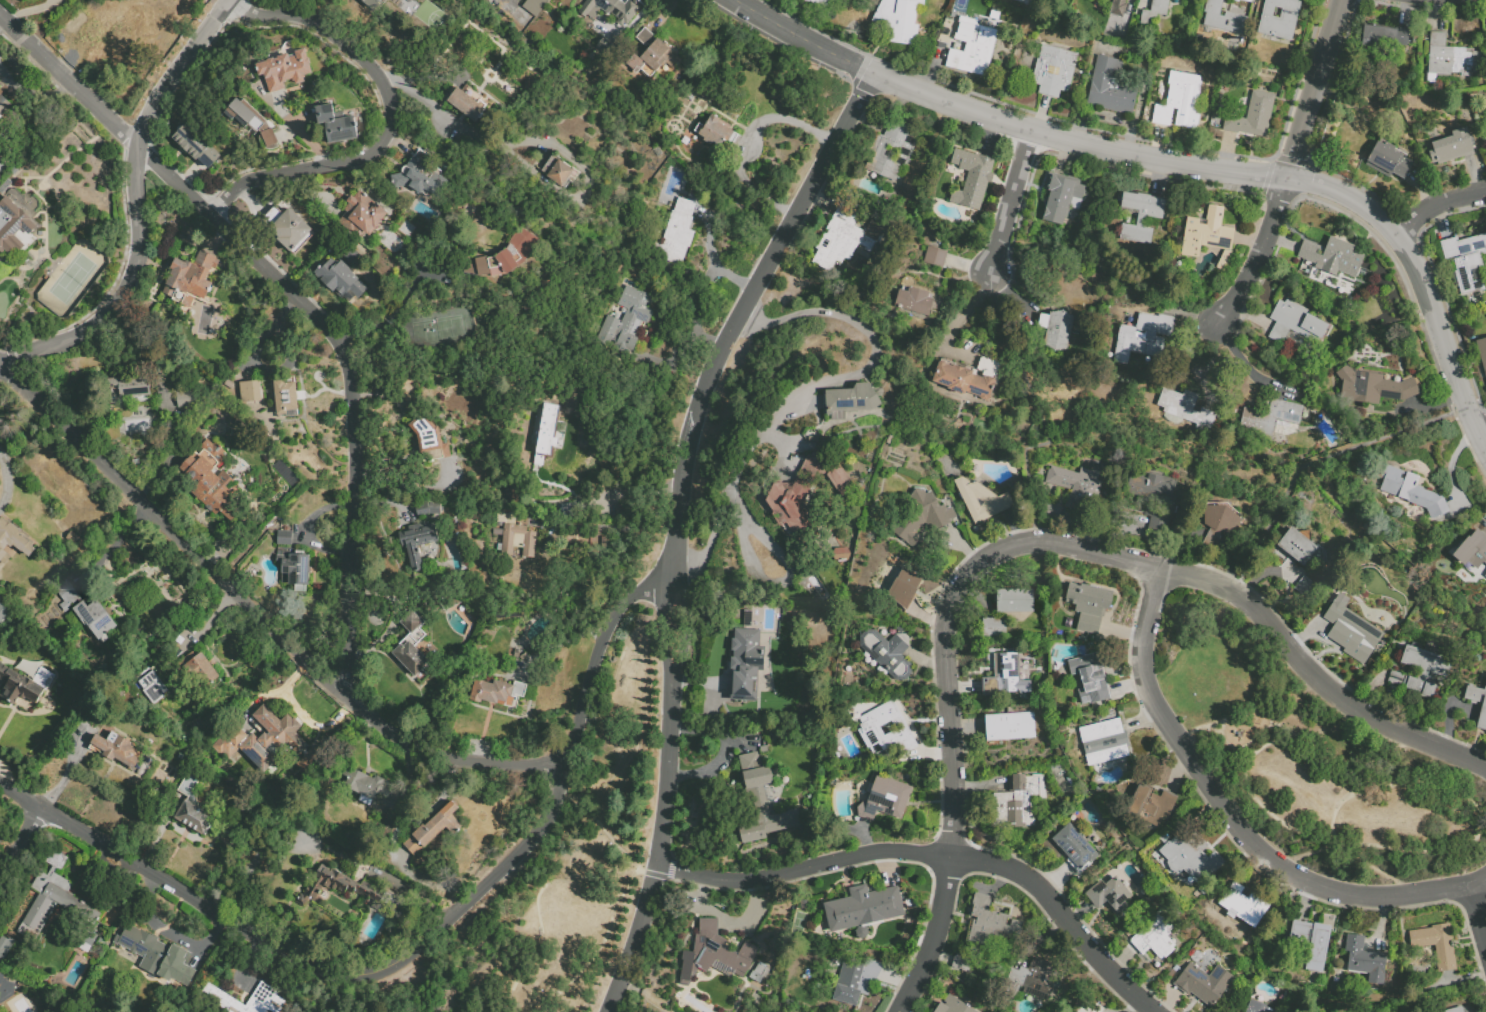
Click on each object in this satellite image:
building: (1022, 0)
building: (1041, 1)
building: (1235, 1)
building: (1247, 1)
building: (819, 2)
building: (371, 3)
building: (532, 5)
building: (1118, 9)
building: (610, 10)
road: (663, 10)
building: (1155, 11)
park: (428, 14)
building: (1223, 19)
building: (1279, 19)
building: (899, 21)
building: (114, 37)
building: (1387, 38)
building: (59, 42)
building: (604, 47)
building: (973, 48)
building: (1020, 54)
building: (652, 57)
building: (1451, 60)
building: (14, 63)
building: (285, 71)
building: (1054, 72)
building: (247, 81)
building: (1110, 89)
road: (1315, 90)
road: (423, 99)
building: (1180, 103)
building: (1220, 103)
building: (467, 104)
building: (4, 107)
building: (1252, 117)
road: (788, 119)
road: (389, 120)
road: (1001, 121)
building: (253, 124)
building: (336, 126)
building: (715, 133)
road: (301, 136)
building: (197, 147)
building: (1451, 149)
building: (11, 152)
building: (970, 152)
building: (891, 155)
building: (1388, 162)
building: (14, 172)
building: (557, 173)
building: (420, 178)
building: (1, 180)
building: (9, 185)
building: (976, 187)
building: (1056, 201)
road: (1010, 203)
building: (283, 205)
road: (1436, 205)
road: (137, 206)
building: (1142, 206)
building: (362, 217)
building: (14, 229)
building: (288, 230)
building: (1207, 234)
building: (1136, 235)
building: (675, 236)
building: (844, 240)
road: (1258, 253)
building: (352, 257)
road: (711, 257)
building: (506, 258)
building: (936, 258)
building: (1331, 258)
building: (1223, 262)
building: (1468, 268)
building: (340, 281)
building: (190, 282)
road: (1421, 282)
road: (297, 298)
building: (914, 302)
road: (396, 310)
road: (738, 310)
building: (628, 323)
building: (1295, 324)
building: (1057, 330)
building: (1144, 338)
building: (1381, 343)
road: (675, 350)
building: (1482, 354)
road: (872, 362)
road: (255, 364)
building: (968, 379)
building: (229, 386)
building: (1373, 388)
building: (131, 391)
building: (250, 392)
building: (286, 398)
building: (187, 400)
building: (850, 402)
building: (1185, 411)
road: (1037, 413)
building: (1274, 419)
building: (538, 429)
building: (1009, 429)
building: (545, 430)
road: (1482, 434)
building: (429, 440)
building: (24, 441)
building: (889, 441)
building: (36, 444)
road: (1356, 446)
building: (546, 472)
building: (807, 476)
building: (835, 476)
building: (59, 480)
building: (209, 480)
building: (1076, 488)
building: (1150, 490)
building: (510, 493)
building: (1411, 493)
building: (93, 500)
building: (982, 501)
road: (725, 502)
building: (790, 509)
building: (427, 510)
building: (1051, 510)
building: (527, 511)
building: (67, 518)
building: (921, 520)
building: (1157, 521)
building: (1218, 523)
building: (84, 526)
road: (612, 526)
building: (497, 534)
building: (515, 536)
building: (284, 538)
building: (73, 539)
building: (60, 541)
building: (13, 542)
building: (417, 543)
building: (1296, 547)
building: (1475, 551)
building: (840, 555)
road: (1106, 557)
building: (294, 571)
building: (1484, 577)
road: (790, 580)
building: (904, 589)
building: (1306, 589)
building: (67, 597)
building: (33, 602)
building: (1011, 602)
building: (444, 605)
building: (1094, 607)
road: (260, 613)
building: (508, 617)
building: (747, 619)
building: (96, 620)
road: (663, 622)
road: (686, 623)
building: (994, 628)
building: (1351, 631)
road: (646, 638)
building: (412, 648)
road: (327, 653)
building: (888, 654)
building: (523, 657)
building: (745, 666)
building: (199, 671)
building: (1423, 673)
building: (145, 674)
building: (1005, 678)
building: (1091, 678)
building: (152, 682)
building: (1395, 682)
building: (24, 686)
building: (497, 693)
building: (1389, 695)
building: (1108, 714)
building: (1482, 717)
building: (1010, 728)
building: (886, 731)
building: (267, 743)
building: (1104, 743)
building: (117, 750)
park: (1310, 758)
building: (193, 768)
building: (367, 786)
road: (1450, 787)
building: (764, 800)
building: (885, 801)
building: (202, 802)
building: (1017, 804)
road: (1261, 804)
building: (1151, 806)
building: (194, 810)
building: (1073, 812)
road: (1226, 812)
road: (603, 828)
building: (434, 830)
road: (23, 844)
road: (660, 847)
building: (1075, 850)
building: (381, 858)
building: (1189, 860)
road: (250, 862)
building: (365, 866)
road: (805, 869)
park: (554, 870)
road: (1476, 880)
building: (343, 890)
building: (1109, 896)
building: (49, 899)
building: (1241, 905)
building: (860, 909)
road: (1476, 910)
road: (1064, 915)
building: (990, 927)
road: (933, 936)
building: (1155, 937)
building: (1308, 938)
road: (1260, 944)
building: (1436, 946)
building: (5, 948)
road: (415, 949)
building: (713, 954)
building: (154, 956)
building: (1365, 961)
building: (961, 963)
building: (1247, 967)
building: (1236, 975)
building: (761, 976)
building: (1036, 981)
building: (1335, 981)
building: (850, 984)
building: (1204, 985)
building: (193, 987)
building: (5, 990)
building: (213, 997)
building: (953, 1006)
building: (1085, 1007)
building: (1257, 1007)
building: (1457, 1010)

